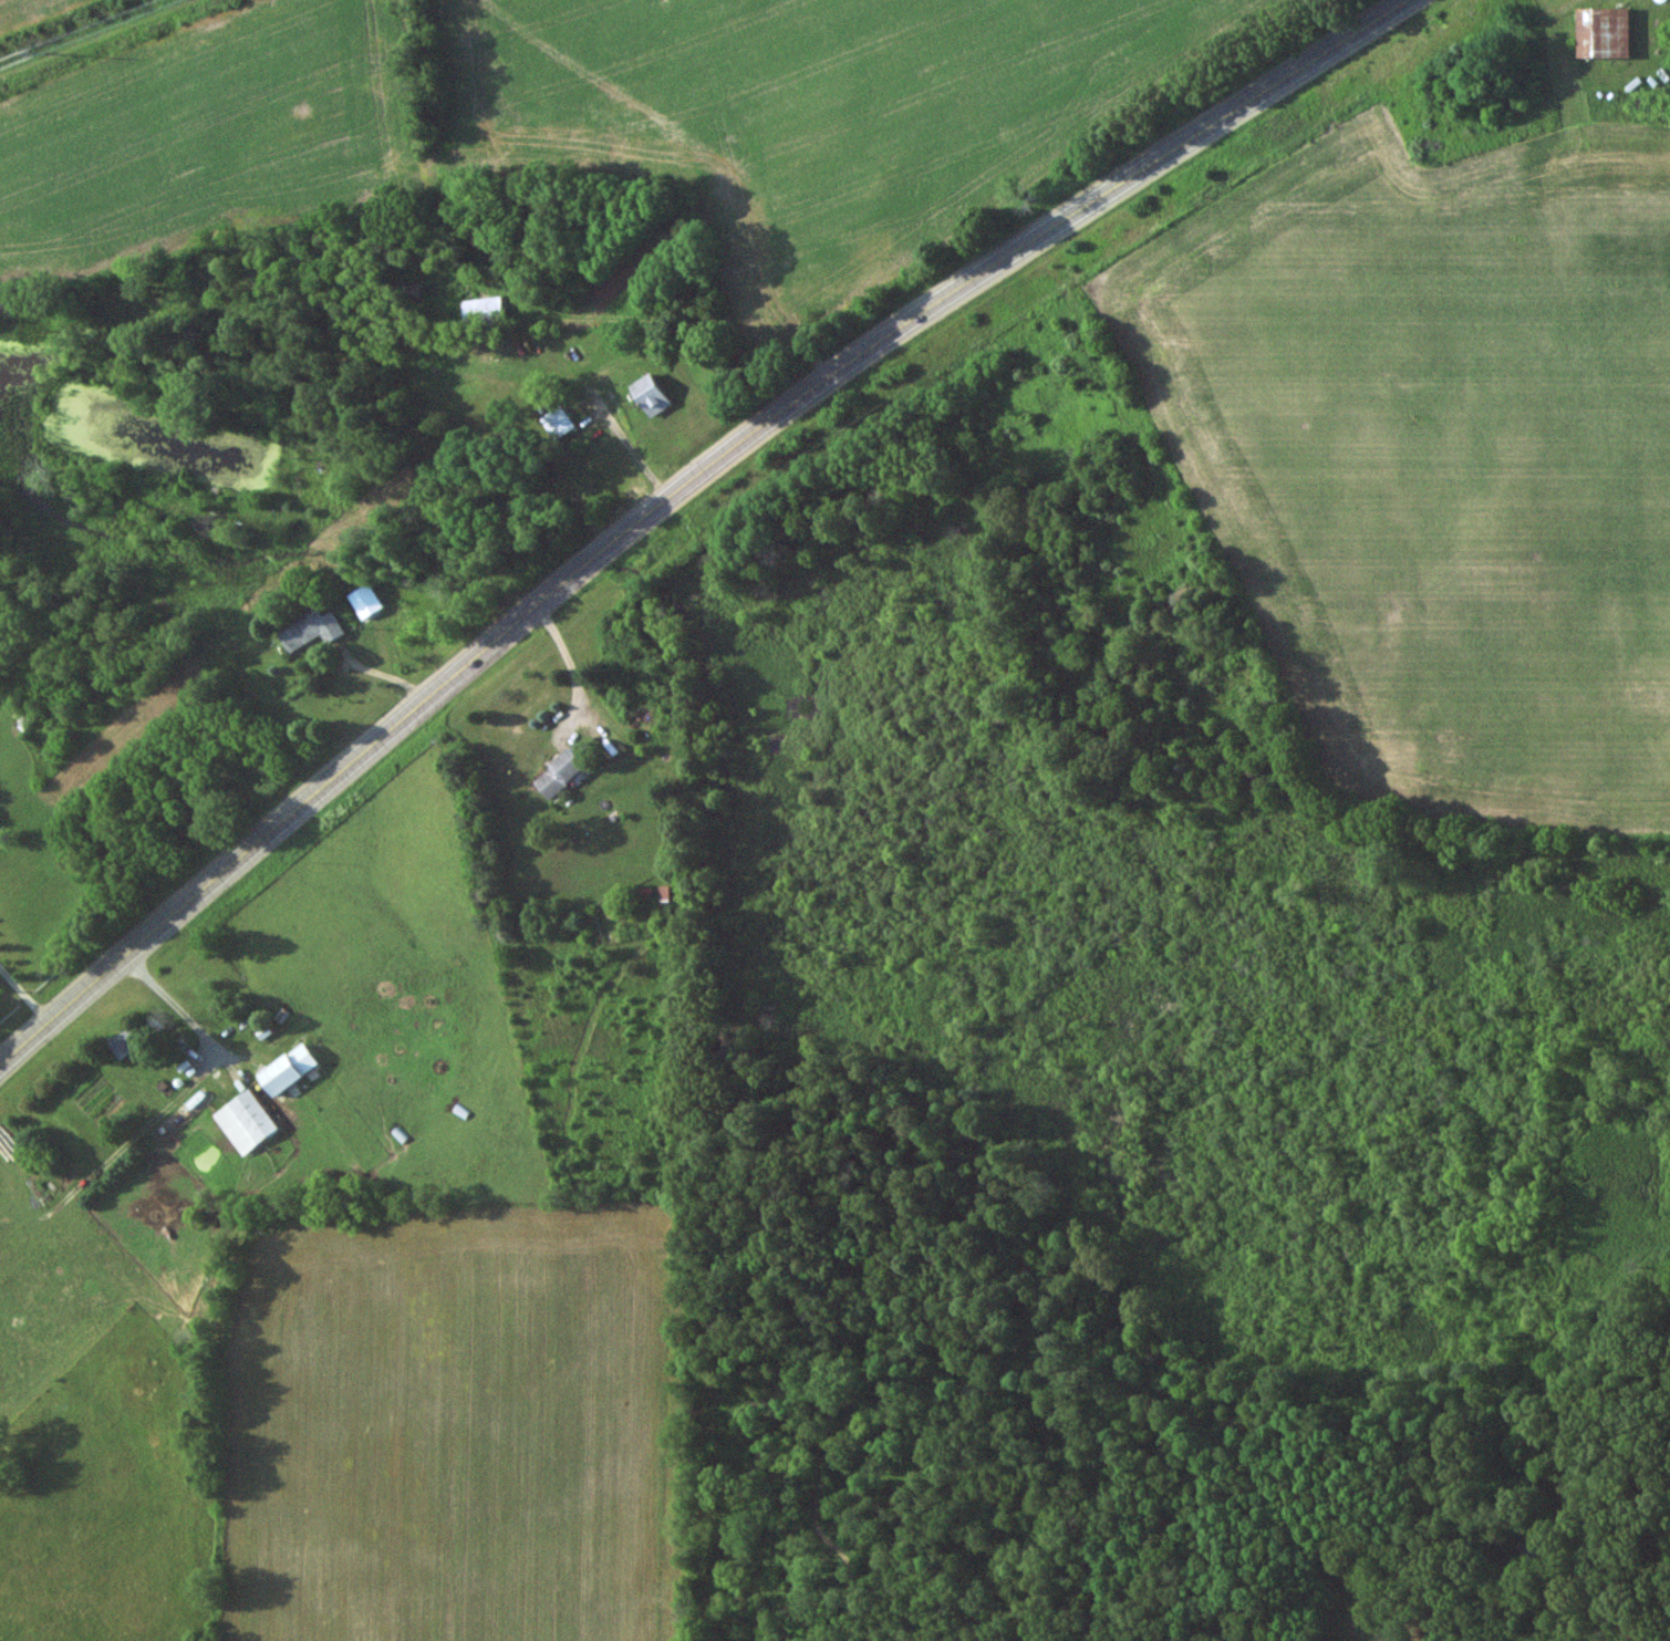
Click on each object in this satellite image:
building: (1605, 34)
building: (652, 395)
building: (557, 423)
road: (674, 490)
building: (310, 631)
road: (564, 661)
building: (1251, 747)
building: (560, 773)
road: (22, 1000)
building: (135, 1039)
building: (290, 1070)
building: (245, 1122)

